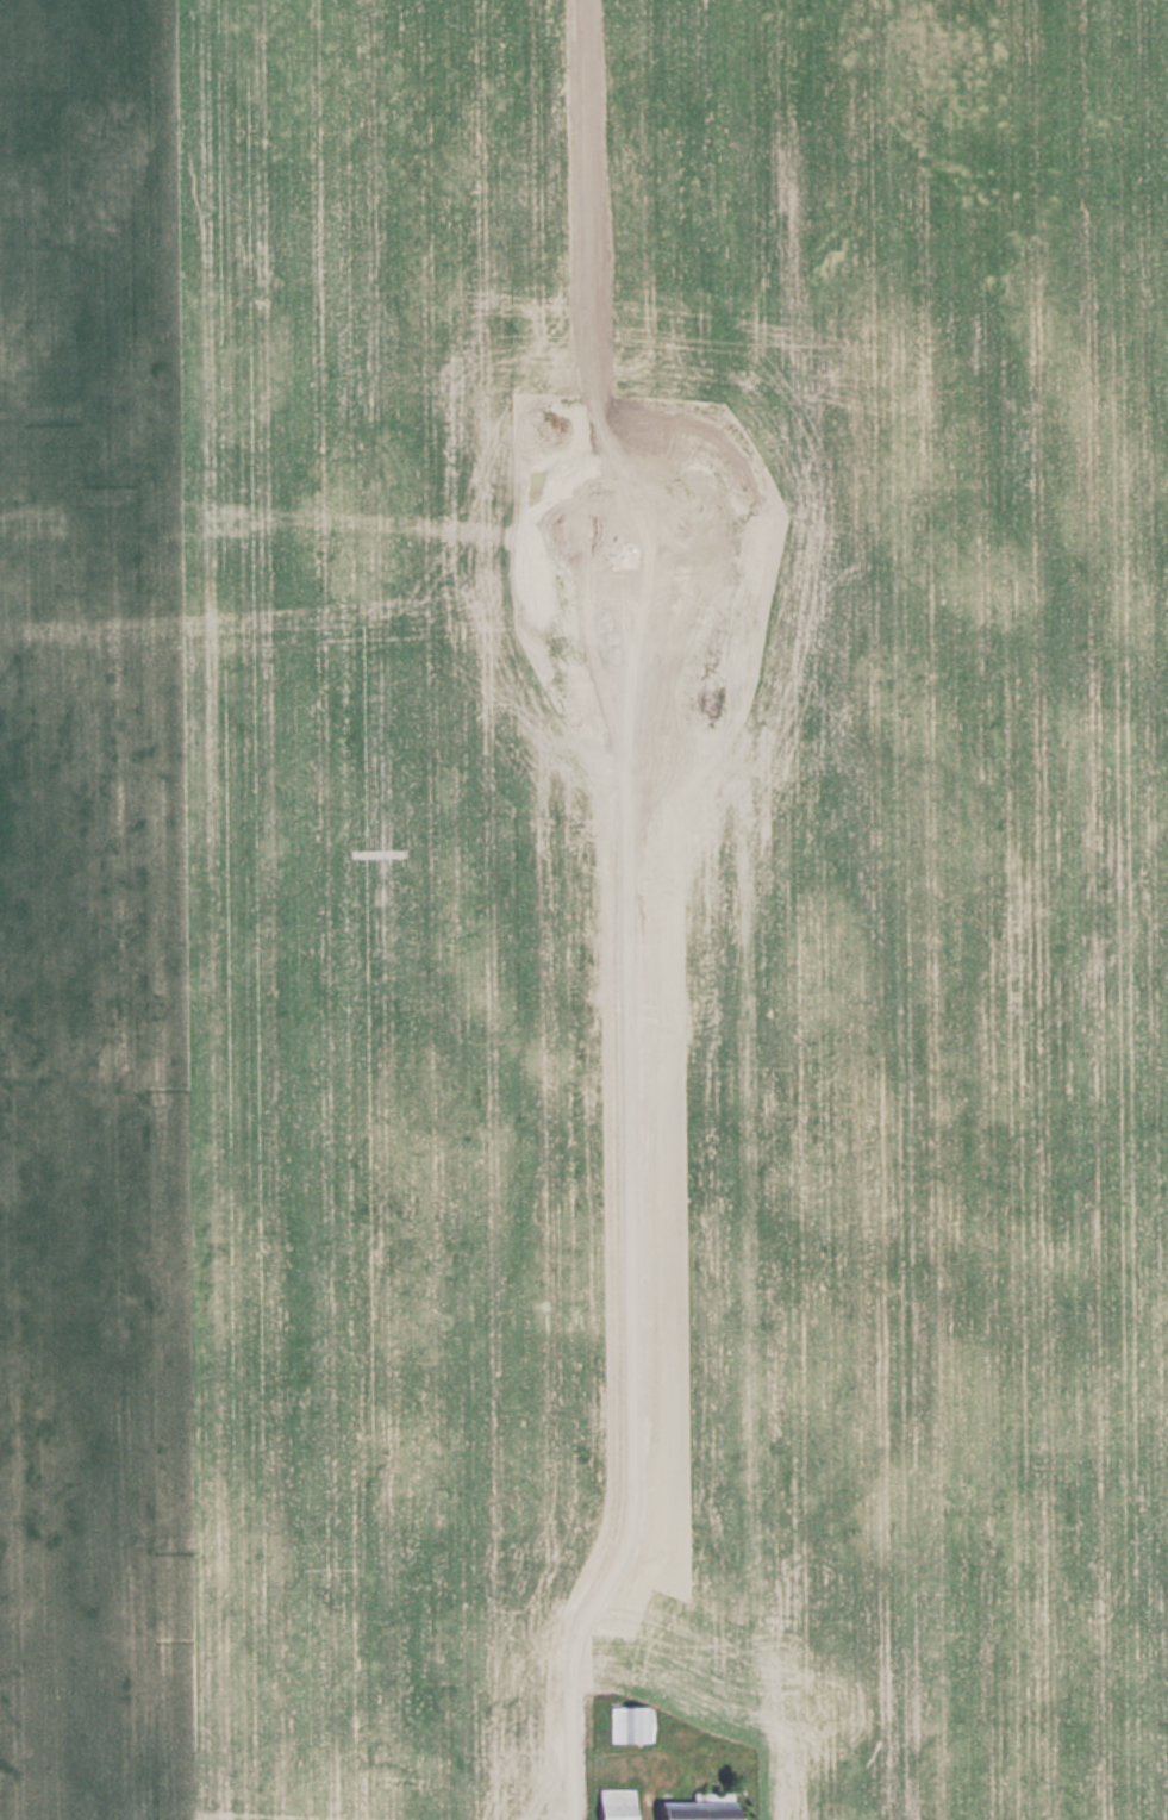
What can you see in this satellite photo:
wind turbine: (647, 605)
building: (629, 1722)
building: (619, 1802)
building: (706, 1807)

